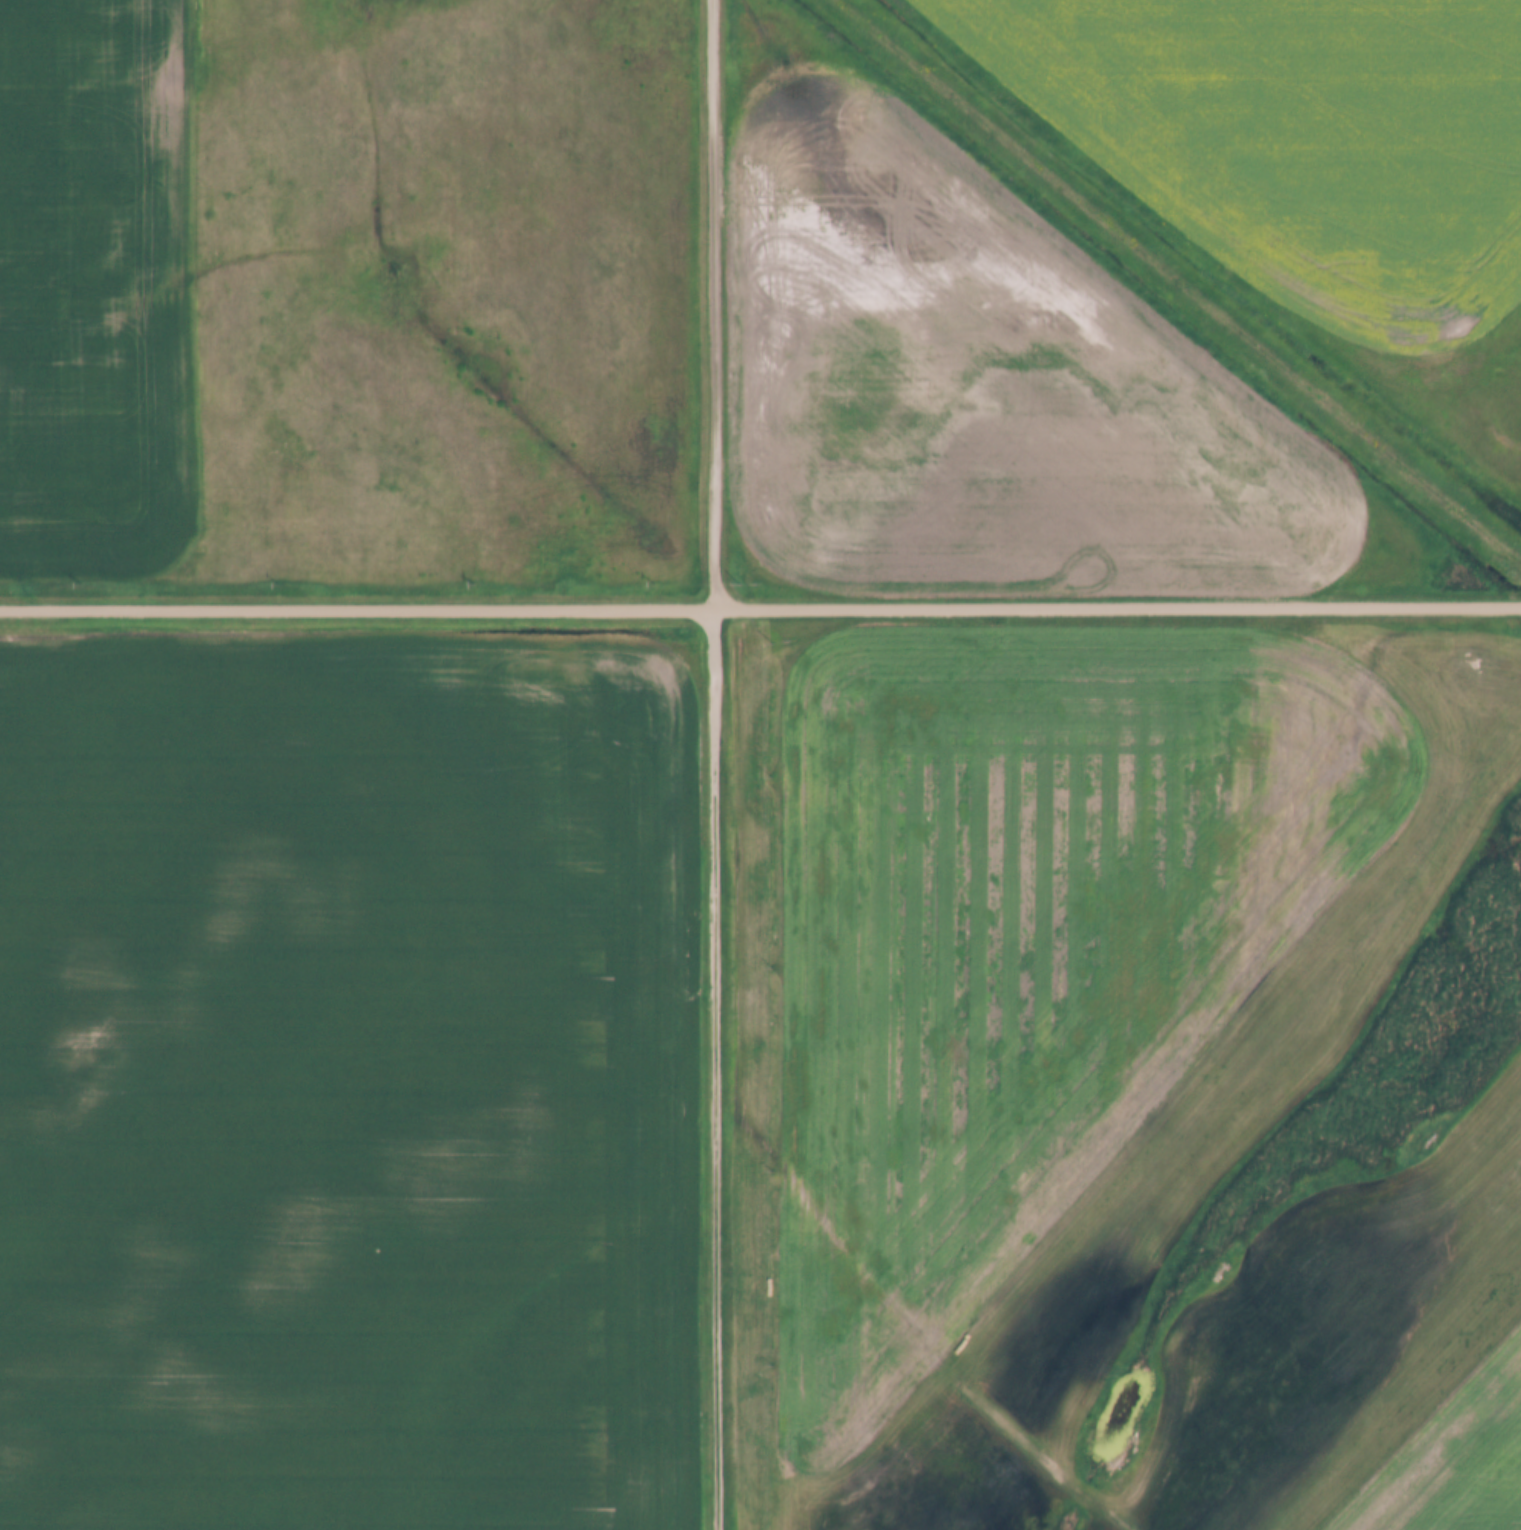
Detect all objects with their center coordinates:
road: (760, 609)
road: (717, 764)

